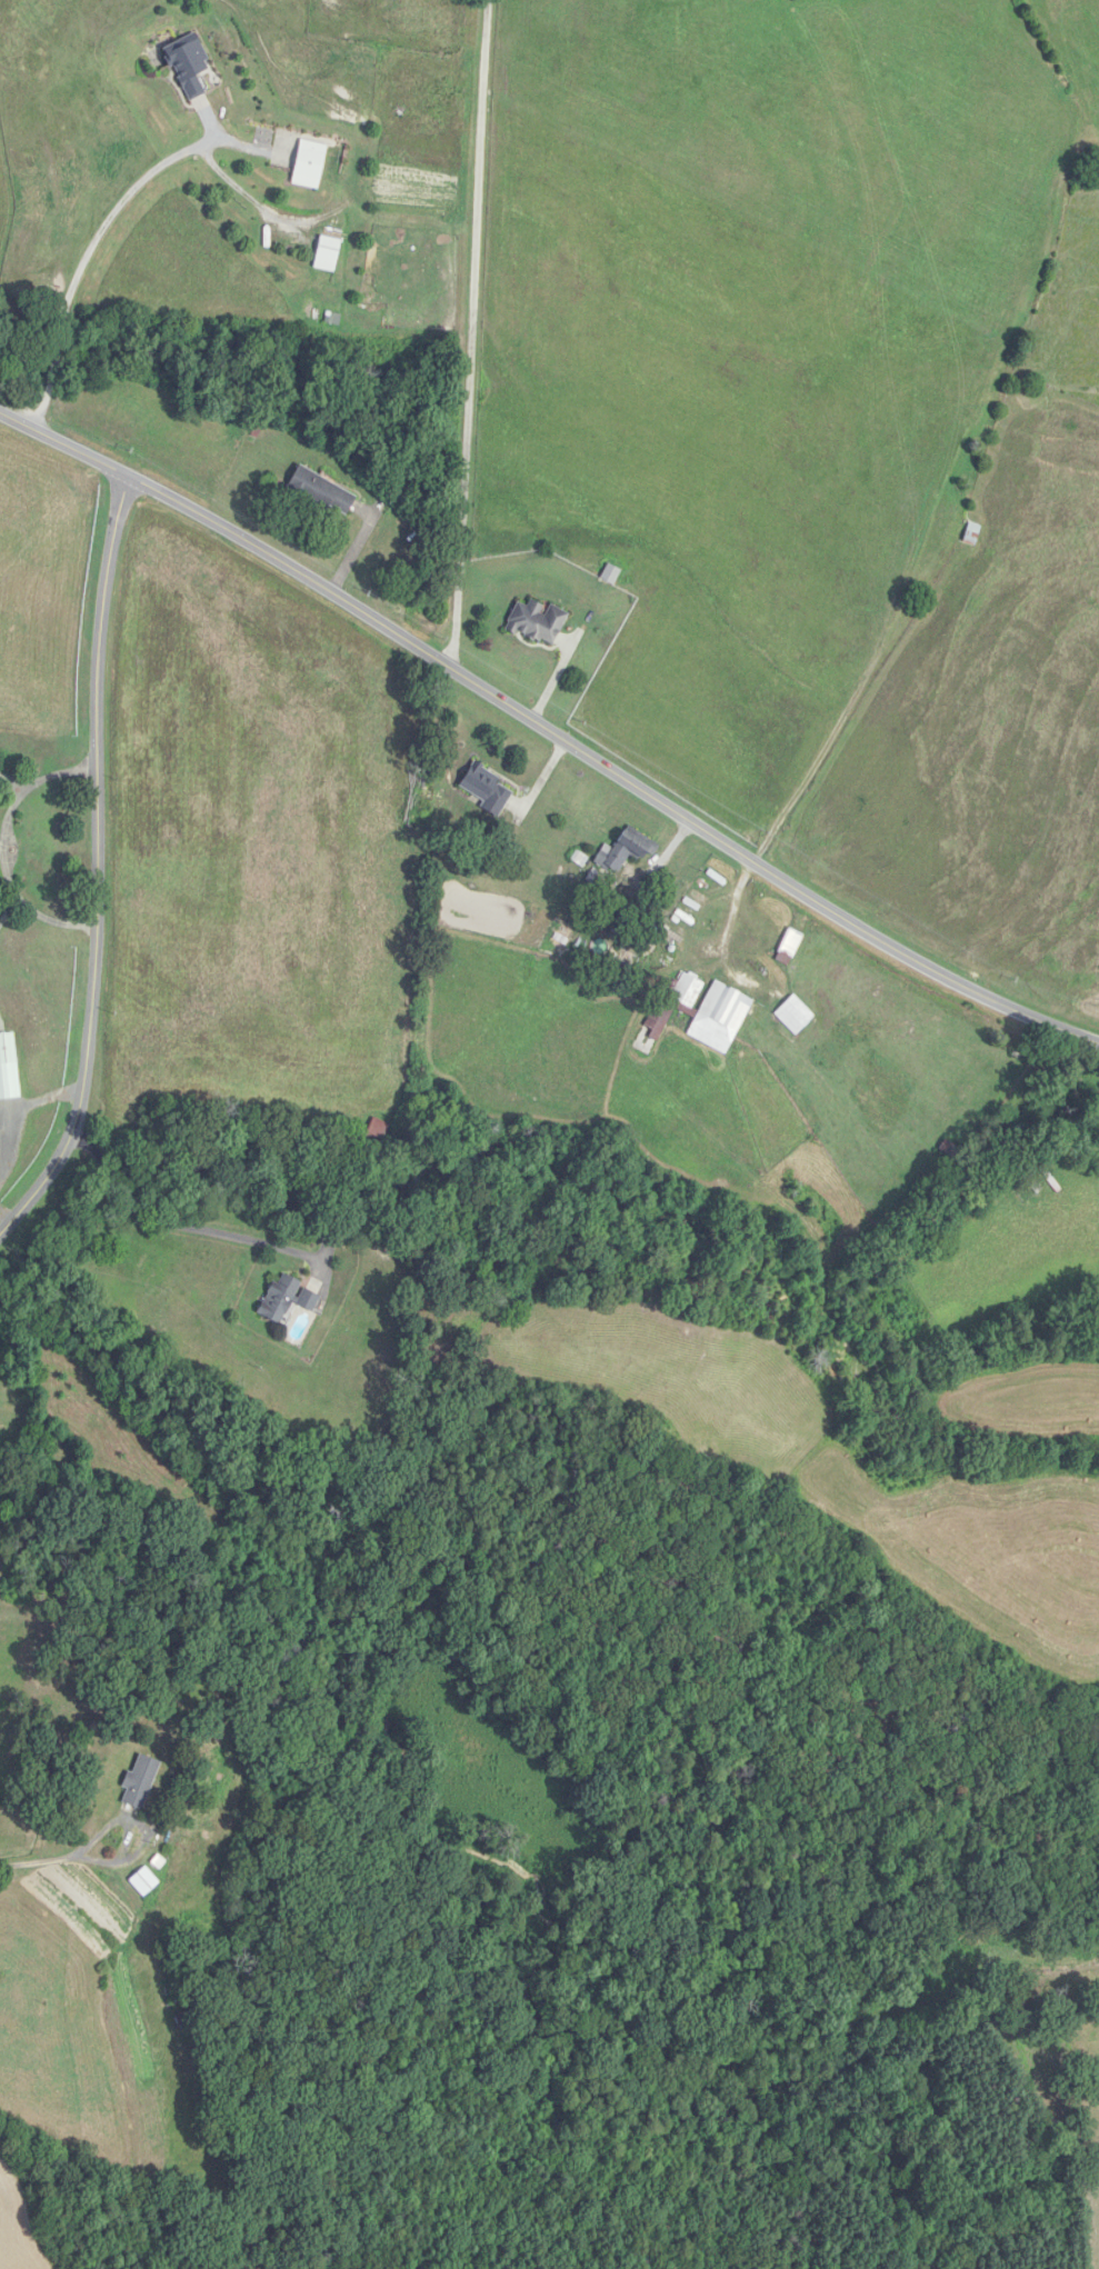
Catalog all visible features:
building: (191, 63)
building: (311, 163)
building: (329, 252)
road: (83, 256)
road: (476, 334)
building: (323, 491)
building: (973, 534)
building: (539, 620)
road: (549, 729)
building: (488, 788)
road: (3, 846)
building: (628, 849)
road: (98, 861)
road: (8, 910)
building: (791, 947)
building: (705, 1011)
building: (797, 1014)
building: (9, 1068)
road: (19, 1107)
road: (3, 1216)
road: (170, 1222)
building: (287, 1298)
building: (141, 1780)
road: (136, 1829)
road: (37, 1861)
building: (146, 1881)
building: (188, 2022)

